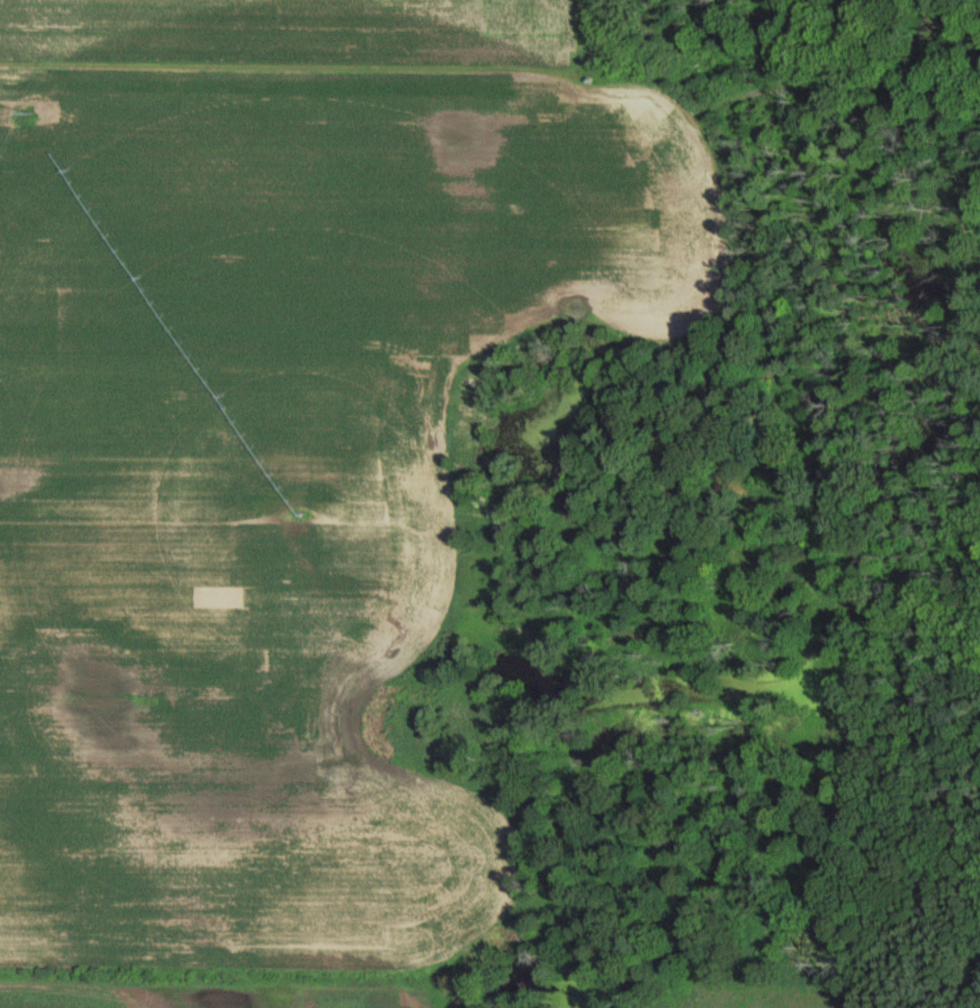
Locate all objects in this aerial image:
power tower: (24, 131)

